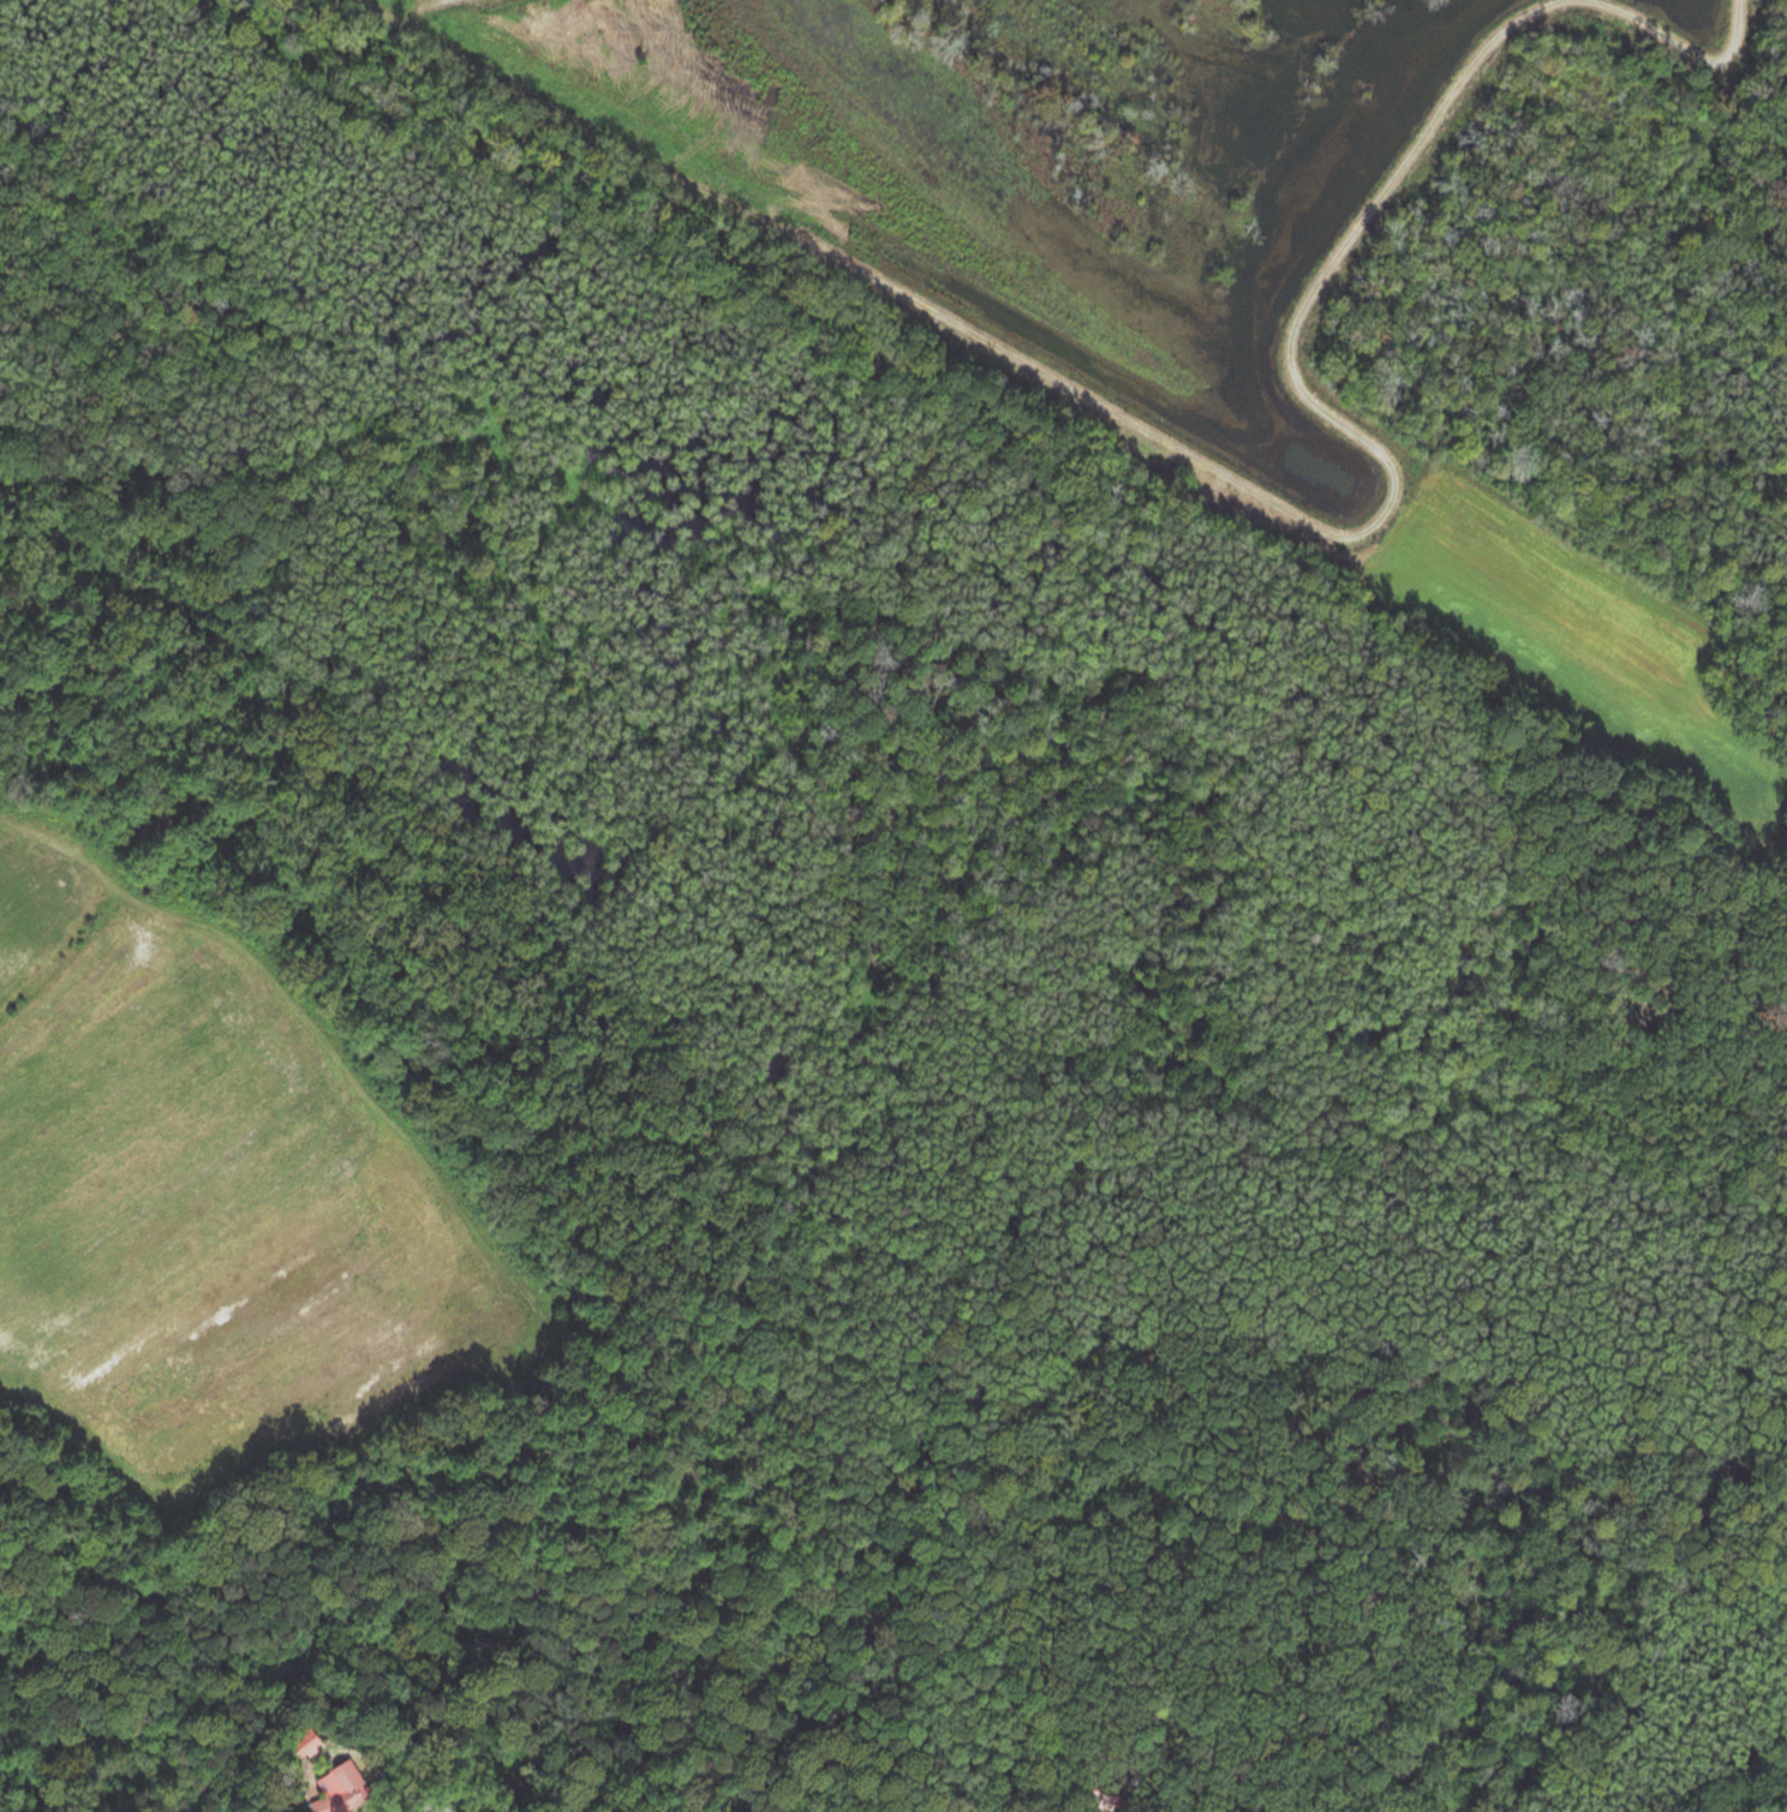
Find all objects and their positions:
building: (339, 1792)
building: (1096, 1793)

